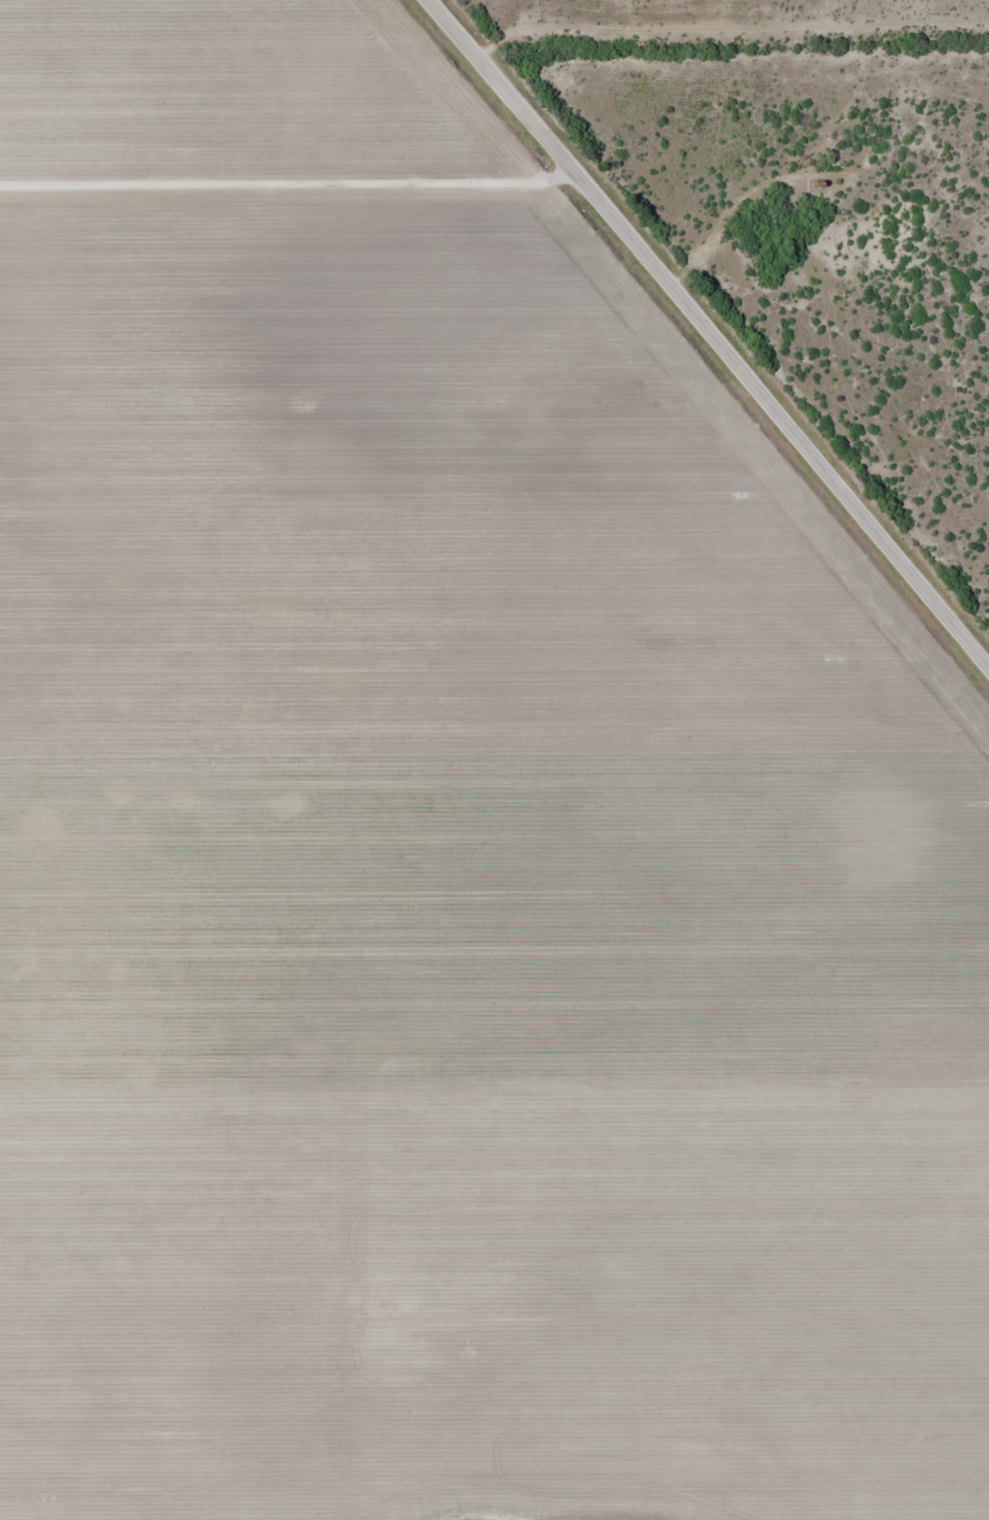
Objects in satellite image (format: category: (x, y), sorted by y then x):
road: (727, 27)
road: (287, 183)
road: (708, 335)

